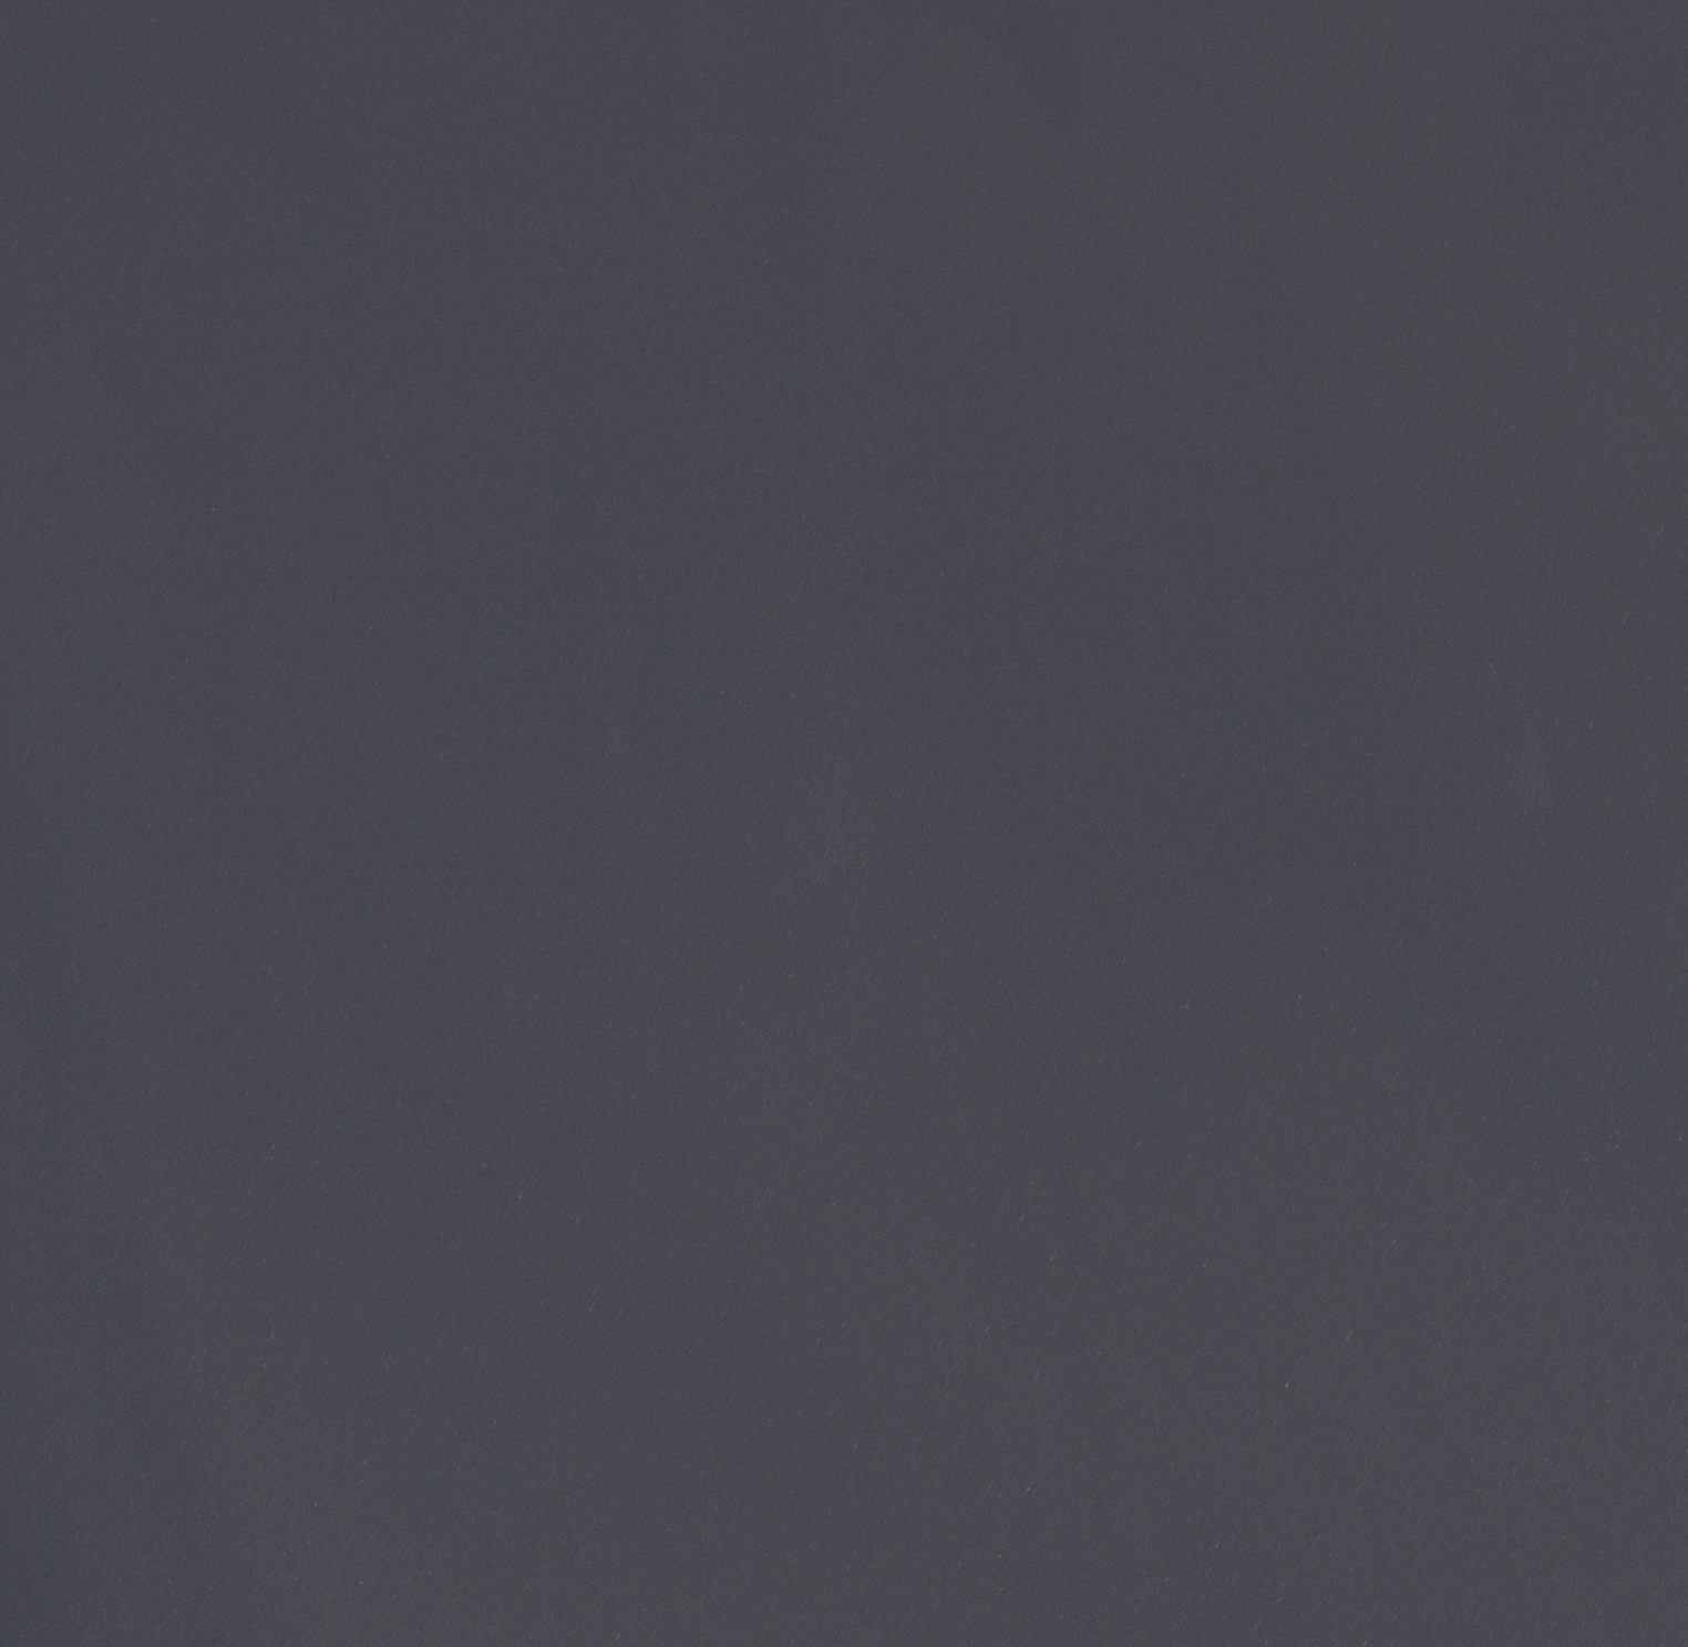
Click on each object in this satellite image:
river: (438, 653)
river: (1282, 1031)

